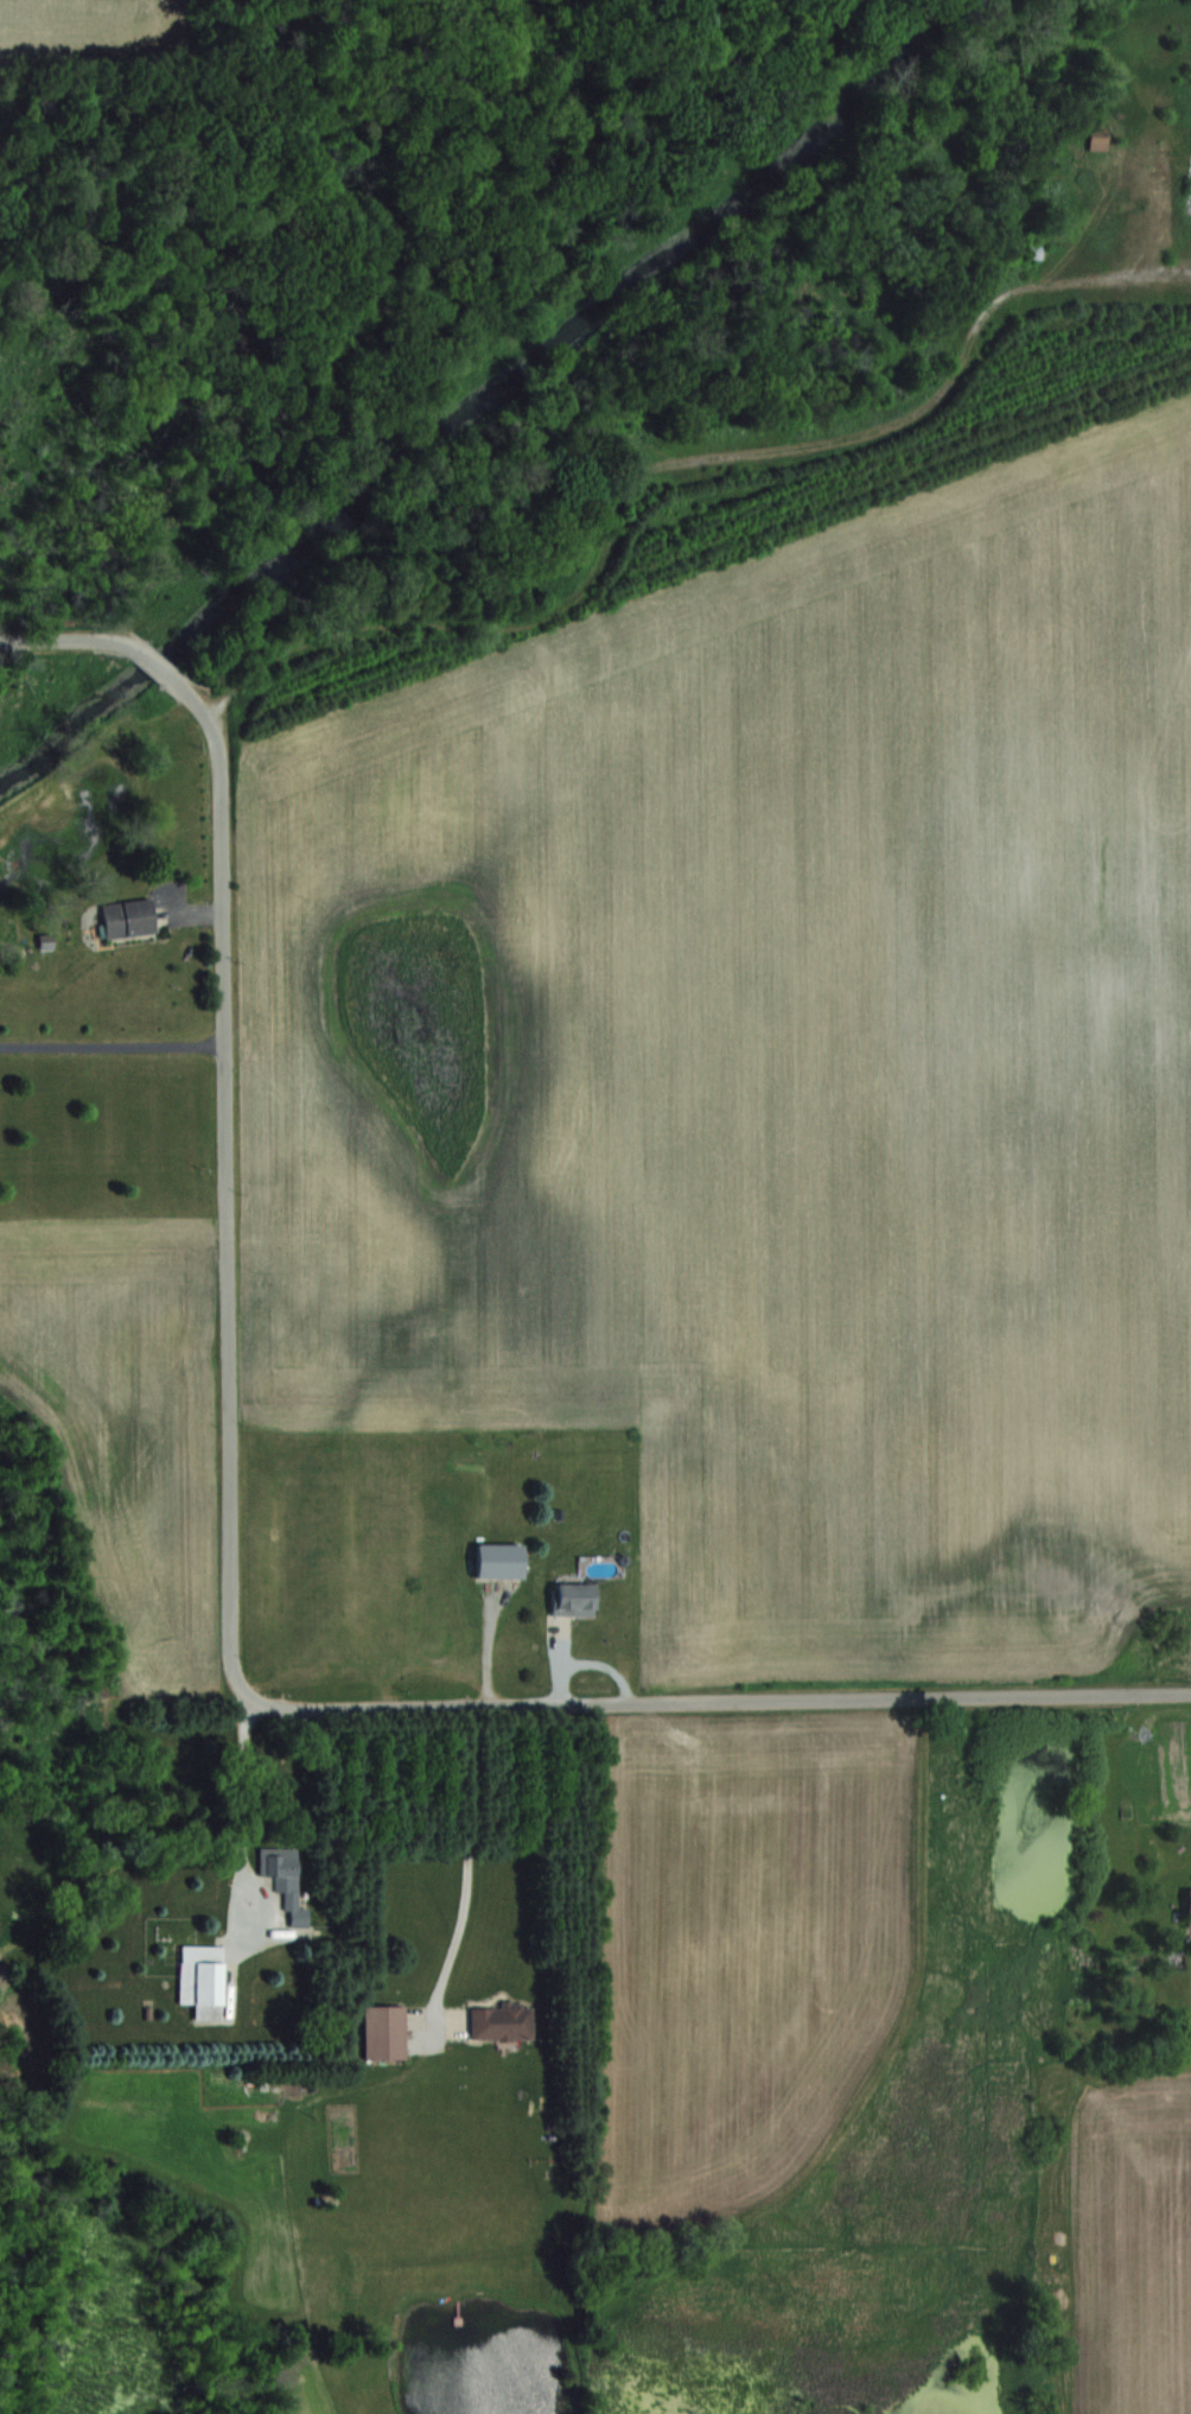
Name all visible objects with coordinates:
building: (1094, 138)
building: (1032, 250)
road: (76, 639)
road: (163, 671)
building: (123, 916)
road: (113, 1041)
road: (227, 1180)
building: (492, 1559)
building: (568, 1599)
road: (714, 1700)
road: (243, 1818)
road: (467, 1867)
building: (289, 1894)
building: (1186, 1907)
building: (198, 1978)
building: (497, 2021)
building: (380, 2032)

